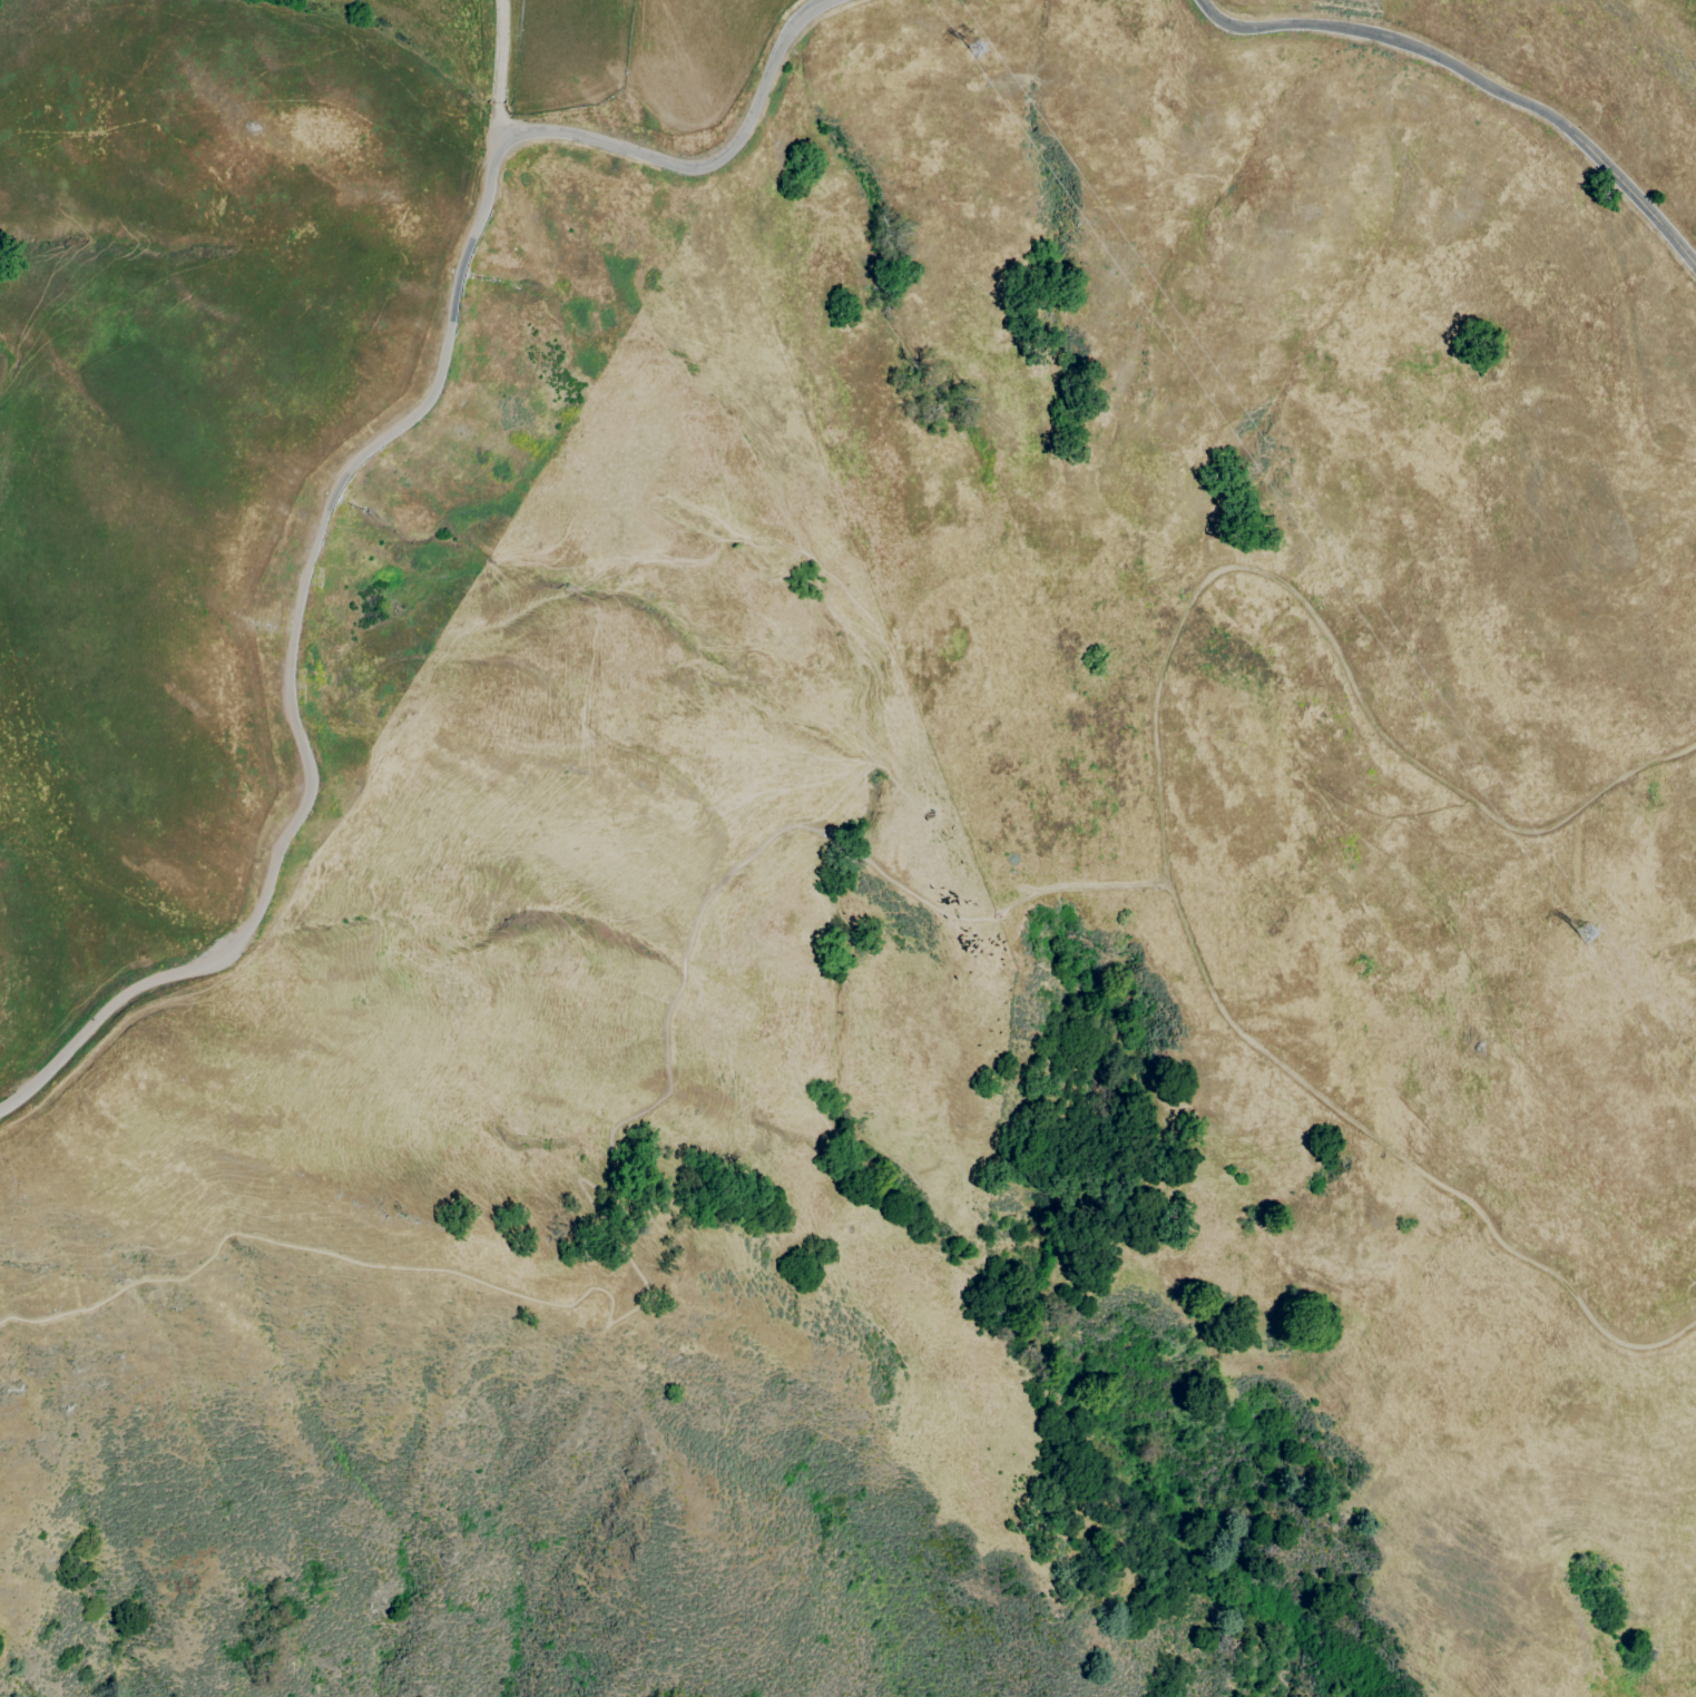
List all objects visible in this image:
power tower: (984, 48)
road: (496, 71)
road: (1473, 79)
road: (351, 469)
road: (1331, 642)
road: (845, 859)
road: (1013, 902)
power tower: (1581, 935)
road: (1408, 1158)
road: (641, 1295)

